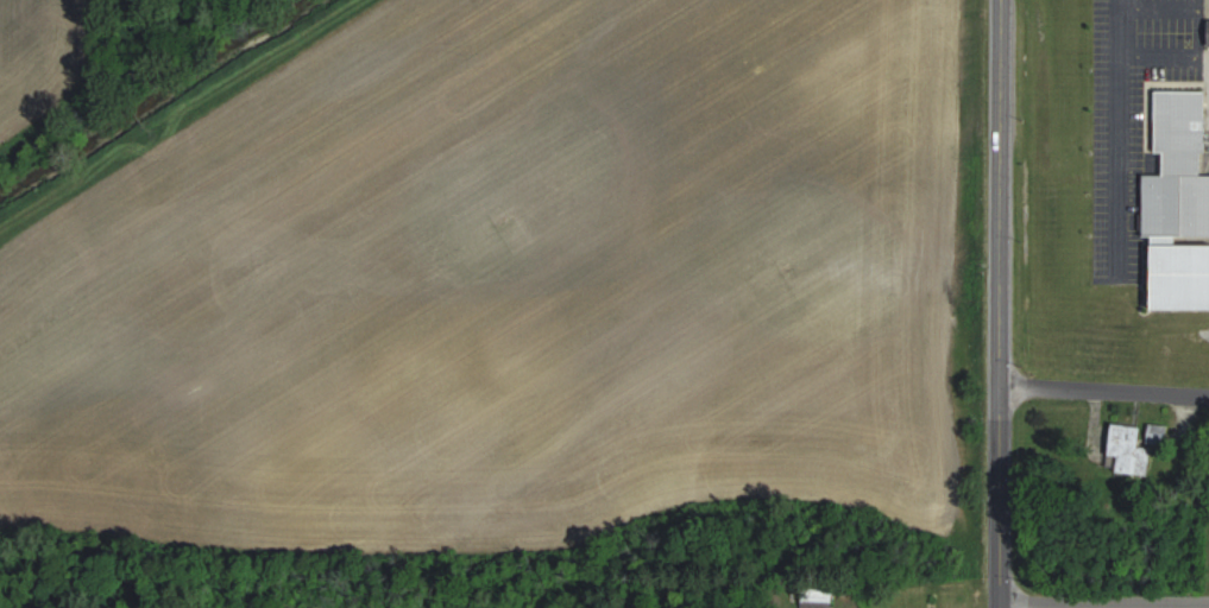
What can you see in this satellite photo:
road: (1120, 138)
building: (1180, 169)
road: (1001, 303)
road: (1104, 387)
building: (1132, 450)
road: (1104, 598)
building: (819, 601)

